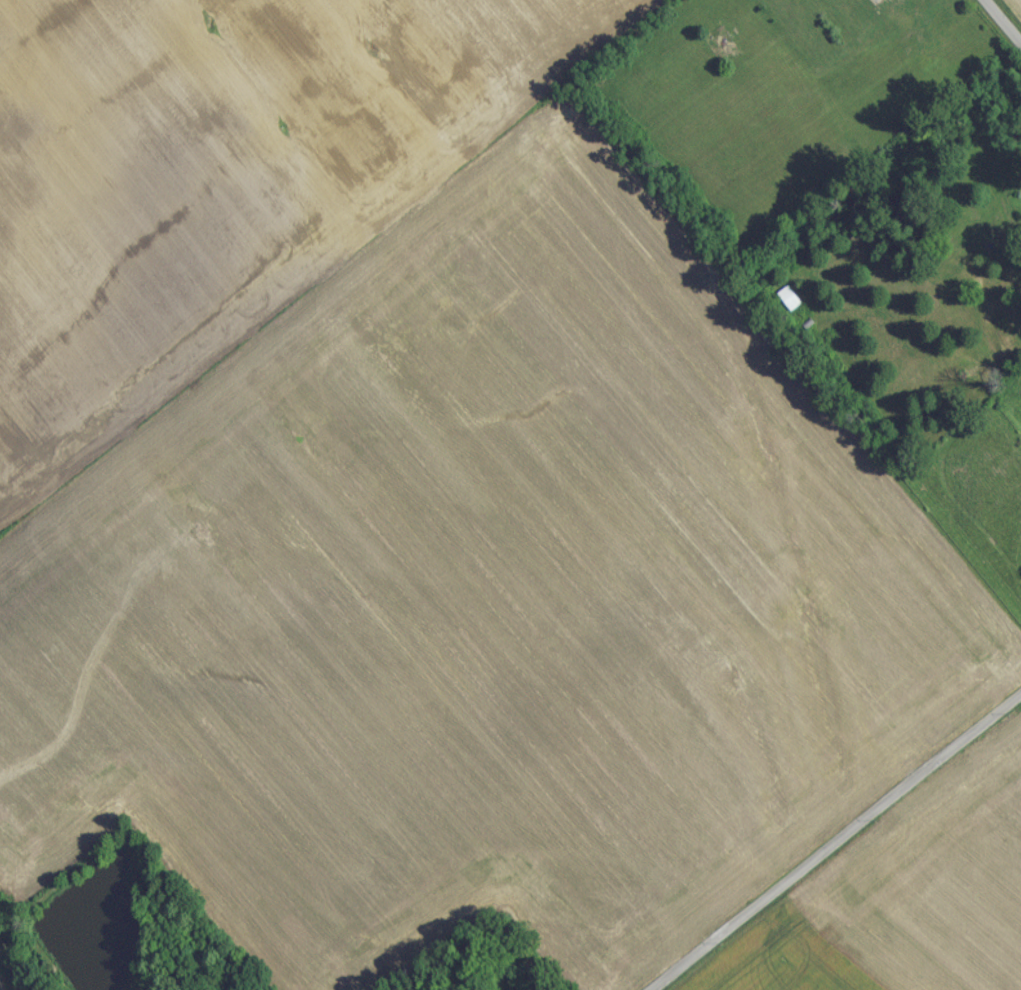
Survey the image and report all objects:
road: (1005, 18)
building: (786, 305)
road: (838, 842)

